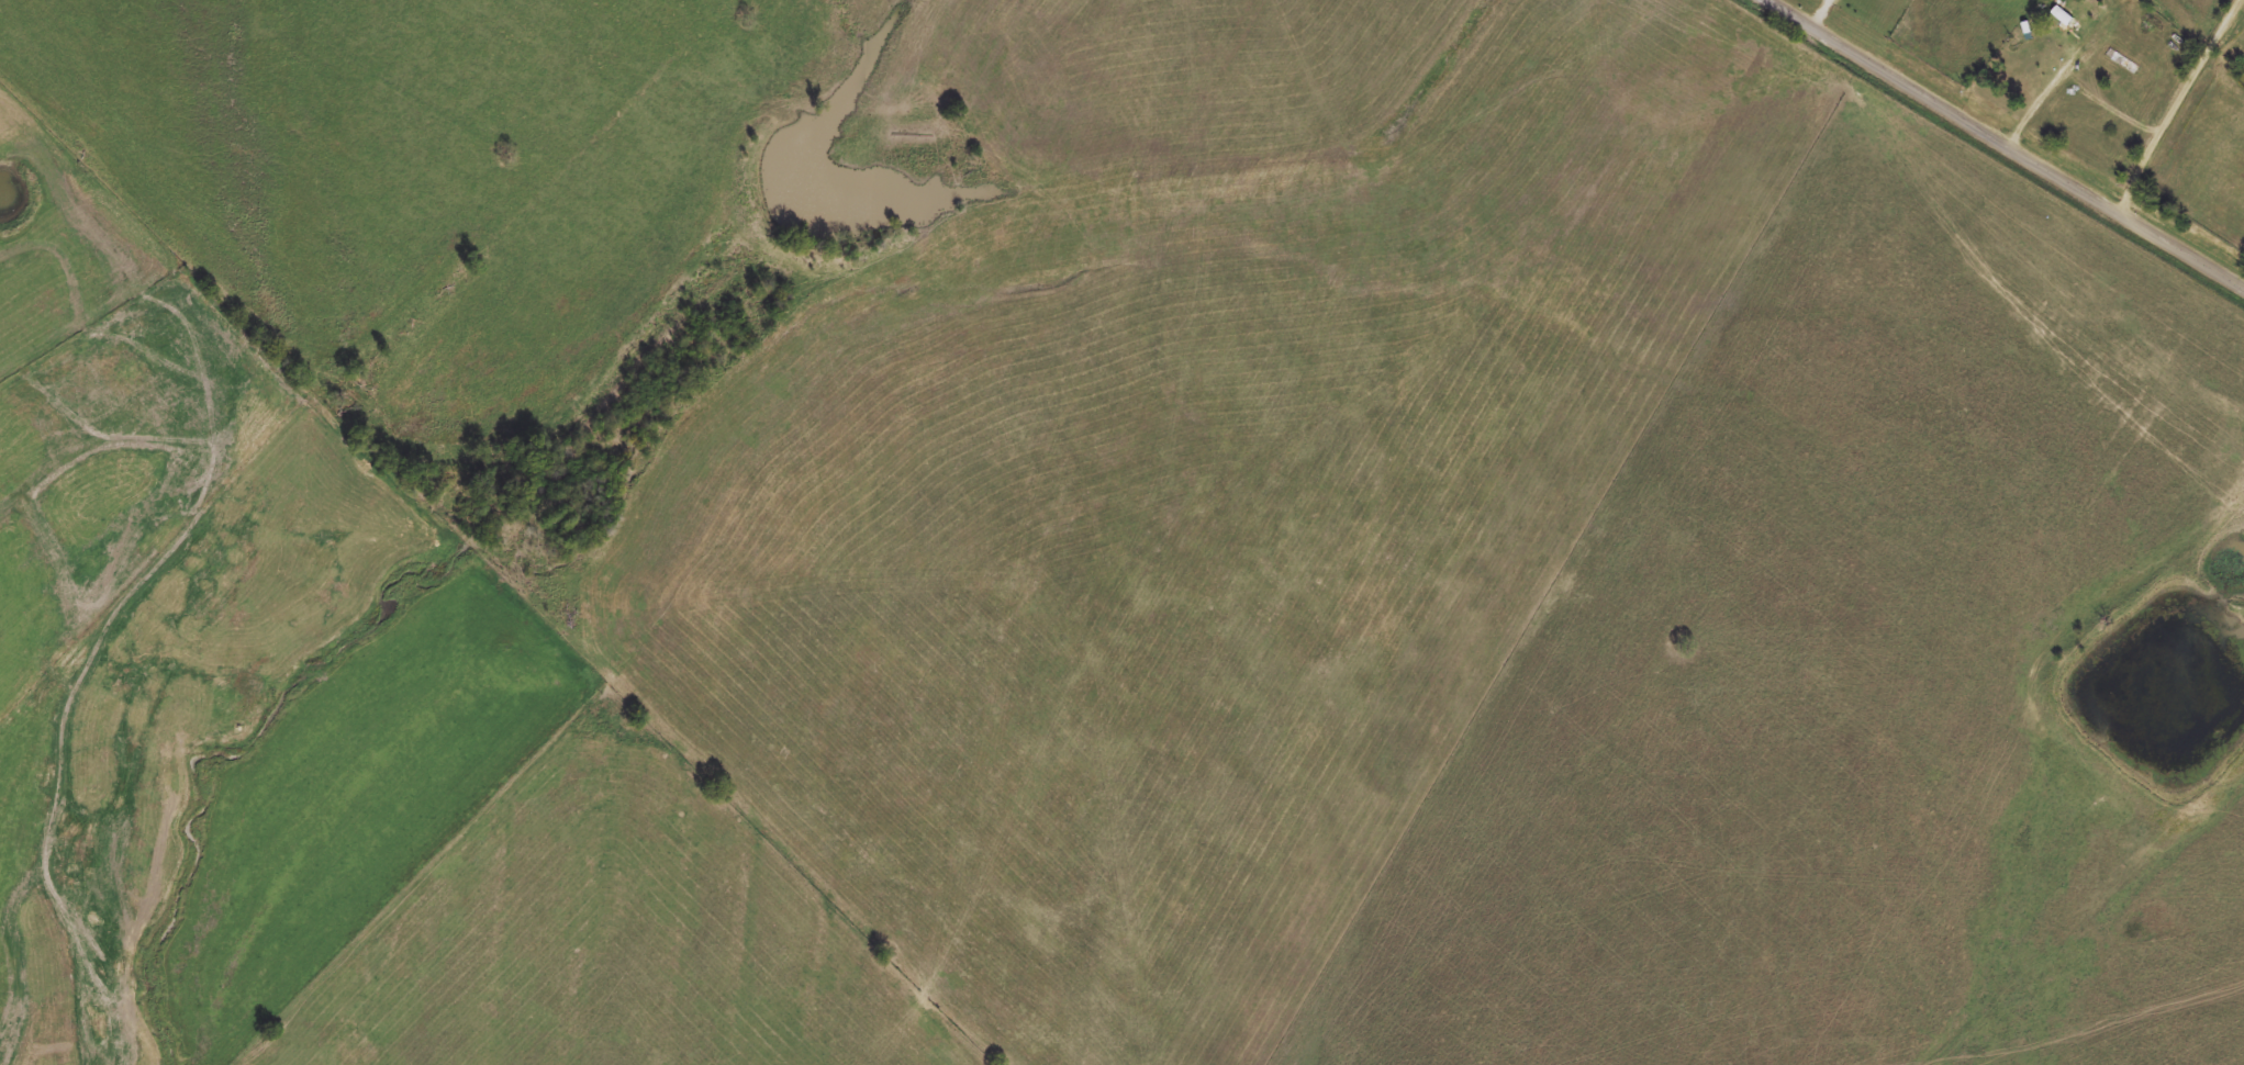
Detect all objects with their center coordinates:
road: (2047, 94)
road: (2179, 108)
road: (2002, 145)

